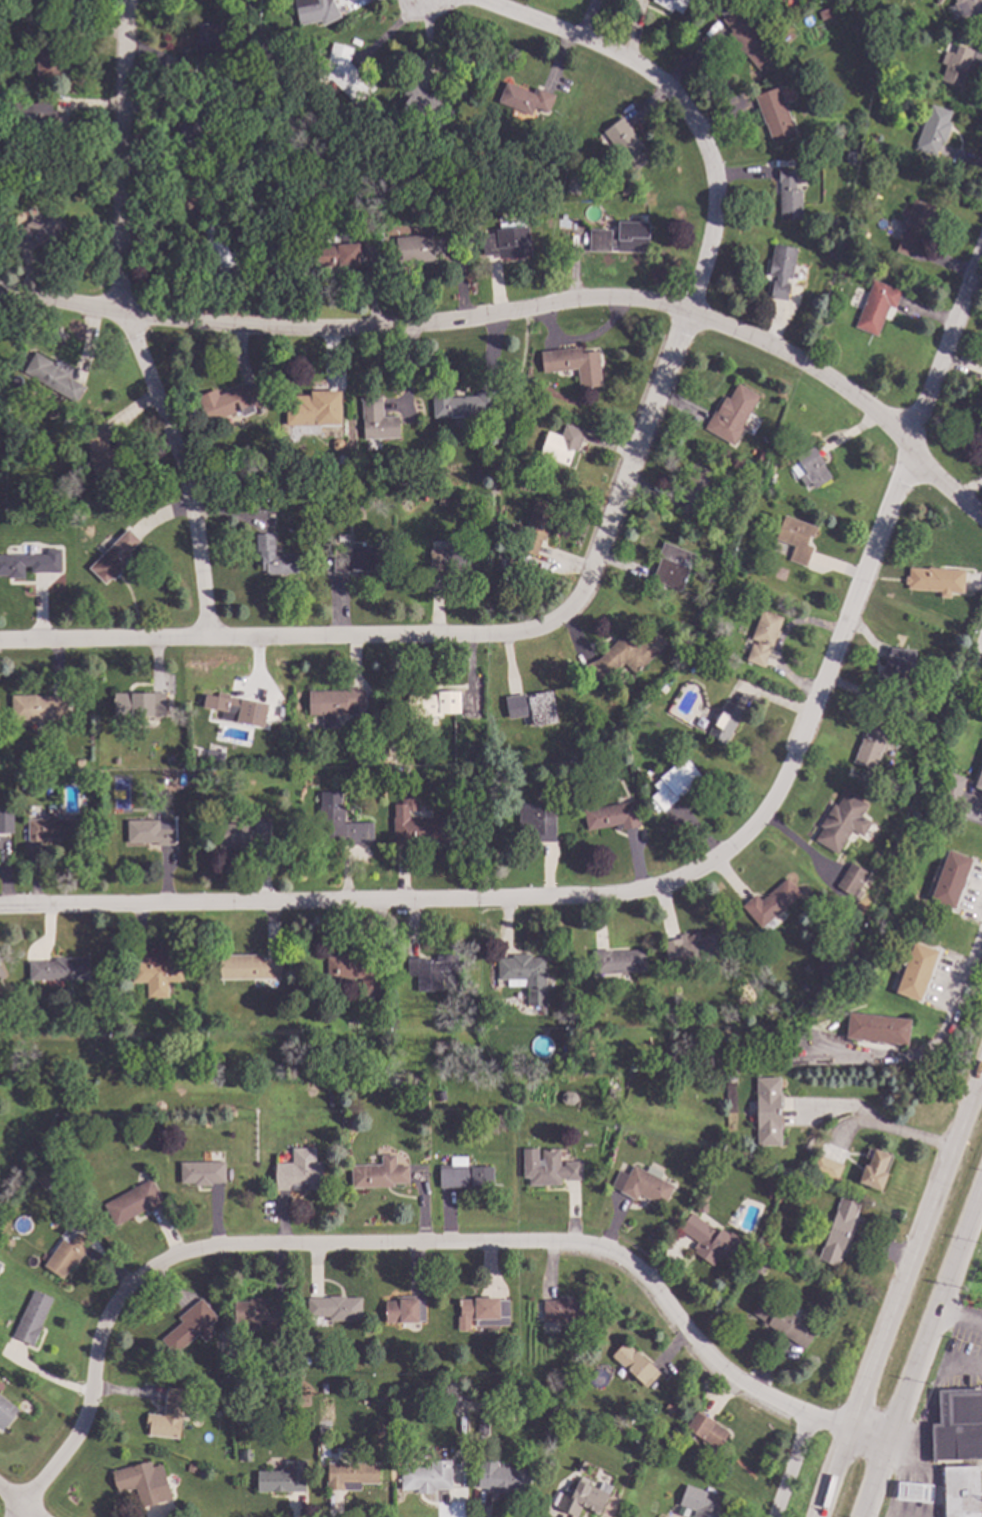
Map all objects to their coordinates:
building: (672, 5)
building: (866, 7)
building: (968, 8)
building: (315, 11)
building: (830, 12)
road: (393, 32)
building: (748, 36)
building: (202, 52)
building: (48, 58)
building: (958, 65)
building: (344, 74)
building: (525, 99)
building: (424, 107)
building: (774, 114)
building: (39, 121)
building: (934, 130)
building: (190, 133)
building: (627, 144)
building: (850, 155)
building: (501, 164)
building: (500, 178)
building: (624, 191)
building: (789, 195)
building: (244, 196)
building: (567, 222)
building: (914, 226)
building: (36, 230)
building: (356, 234)
building: (621, 238)
building: (507, 243)
building: (417, 249)
building: (223, 256)
building: (338, 256)
building: (781, 270)
building: (876, 307)
road: (524, 316)
road: (126, 324)
road: (946, 341)
building: (574, 365)
building: (52, 377)
building: (231, 402)
building: (462, 404)
building: (314, 408)
building: (732, 415)
building: (377, 420)
building: (979, 425)
building: (562, 445)
building: (102, 458)
building: (812, 468)
building: (477, 476)
building: (770, 481)
building: (698, 489)
building: (359, 510)
building: (60, 518)
road: (615, 520)
building: (536, 528)
building: (796, 539)
building: (114, 557)
building: (274, 557)
building: (358, 560)
building: (449, 562)
building: (30, 563)
building: (504, 563)
building: (673, 567)
building: (936, 580)
building: (721, 602)
building: (763, 637)
road: (976, 653)
building: (624, 656)
building: (898, 663)
building: (663, 689)
building: (139, 705)
building: (334, 705)
building: (433, 706)
building: (38, 707)
building: (234, 708)
building: (533, 708)
building: (725, 723)
building: (871, 746)
building: (381, 752)
building: (215, 756)
building: (504, 758)
building: (20, 760)
building: (169, 760)
building: (116, 762)
building: (979, 780)
building: (564, 781)
building: (674, 783)
building: (951, 793)
building: (677, 816)
building: (612, 817)
building: (537, 821)
building: (842, 822)
building: (340, 823)
building: (4, 825)
building: (418, 826)
building: (52, 827)
building: (151, 832)
building: (262, 833)
building: (233, 835)
building: (851, 879)
building: (951, 879)
road: (596, 890)
building: (771, 904)
building: (916, 906)
building: (912, 936)
building: (692, 948)
building: (618, 961)
building: (248, 968)
building: (60, 969)
building: (431, 971)
building: (522, 971)
building: (822, 971)
building: (916, 971)
building: (353, 972)
building: (157, 974)
building: (1, 975)
building: (1, 979)
building: (803, 987)
road: (964, 995)
building: (877, 1029)
building: (14, 1031)
building: (731, 1036)
building: (465, 1056)
building: (767, 1110)
road: (873, 1124)
building: (825, 1166)
building: (549, 1167)
building: (874, 1170)
building: (299, 1171)
building: (203, 1172)
building: (378, 1174)
building: (464, 1176)
building: (642, 1185)
building: (133, 1202)
building: (838, 1231)
building: (707, 1240)
road: (407, 1248)
building: (66, 1253)
road: (899, 1290)
building: (334, 1309)
building: (404, 1309)
building: (563, 1310)
building: (477, 1312)
building: (257, 1315)
building: (32, 1317)
road: (957, 1317)
building: (782, 1322)
building: (194, 1324)
road: (918, 1346)
road: (948, 1362)
building: (635, 1364)
building: (5, 1411)
building: (167, 1415)
building: (959, 1425)
building: (482, 1426)
building: (706, 1431)
road: (789, 1468)
building: (353, 1473)
building: (424, 1475)
building: (501, 1475)
building: (283, 1478)
building: (143, 1481)
building: (913, 1491)
building: (961, 1491)
gas station: (961, 1491)
building: (583, 1498)
building: (702, 1502)
road: (14, 1506)
road: (18, 1514)

